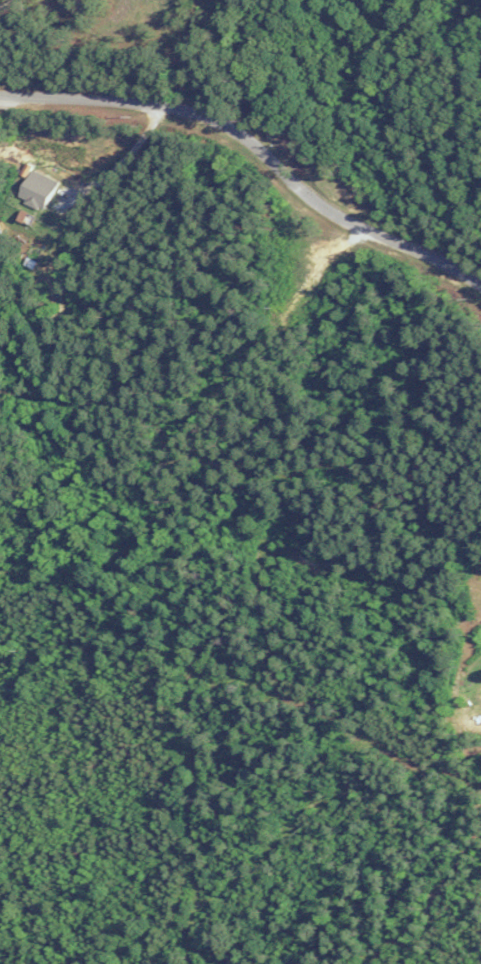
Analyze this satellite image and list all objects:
road: (4, 3)
road: (254, 149)
road: (113, 166)

